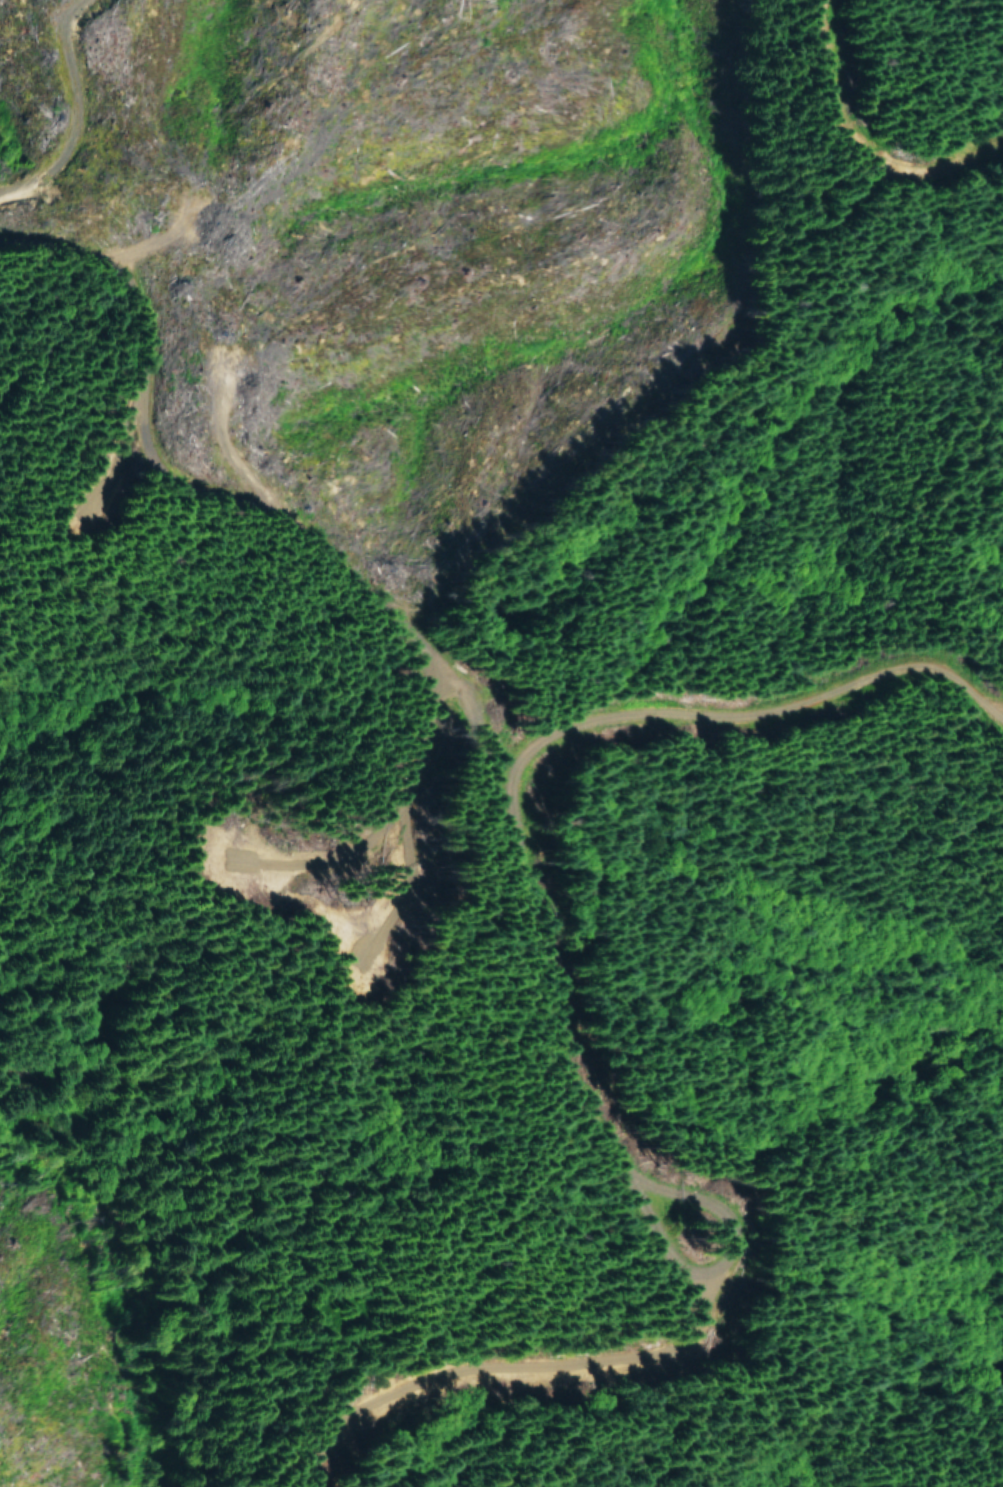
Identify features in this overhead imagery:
road: (278, 585)
road: (680, 668)
road: (521, 1005)
road: (1002, 1207)

